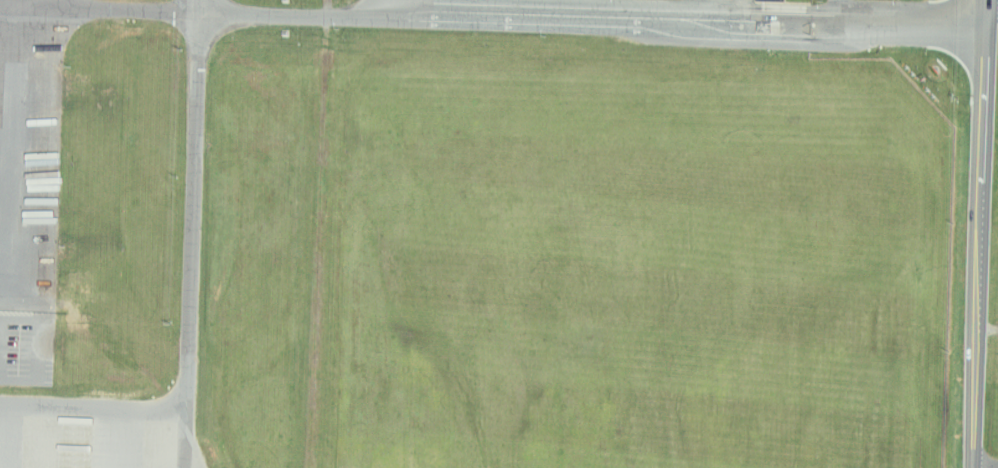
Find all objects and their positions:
building: (772, 0)
road: (995, 6)
road: (736, 11)
road: (846, 12)
road: (595, 20)
road: (14, 47)
road: (984, 233)
road: (193, 234)
road: (990, 312)
road: (95, 401)

